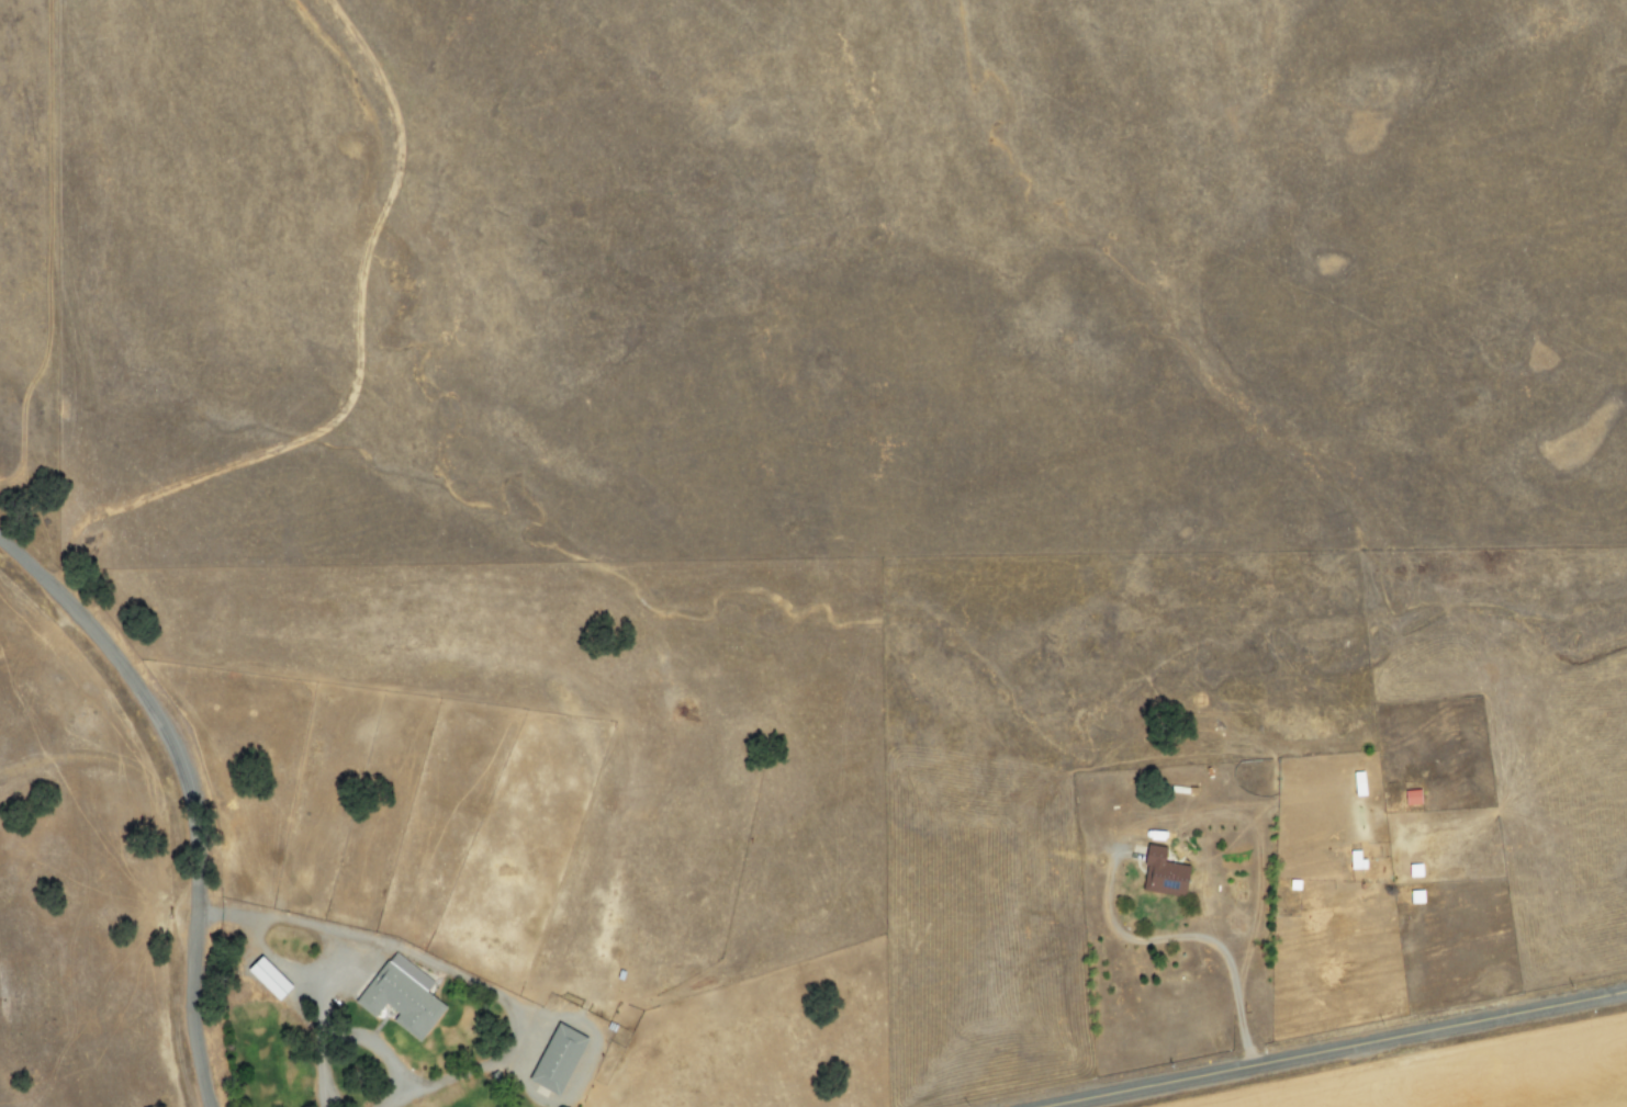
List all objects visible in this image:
road: (67, 291)
road: (184, 791)
building: (1409, 797)
building: (1159, 872)
building: (263, 978)
building: (399, 995)
road: (516, 1018)
road: (1329, 1048)
building: (553, 1059)
road: (324, 1072)
road: (396, 1096)

